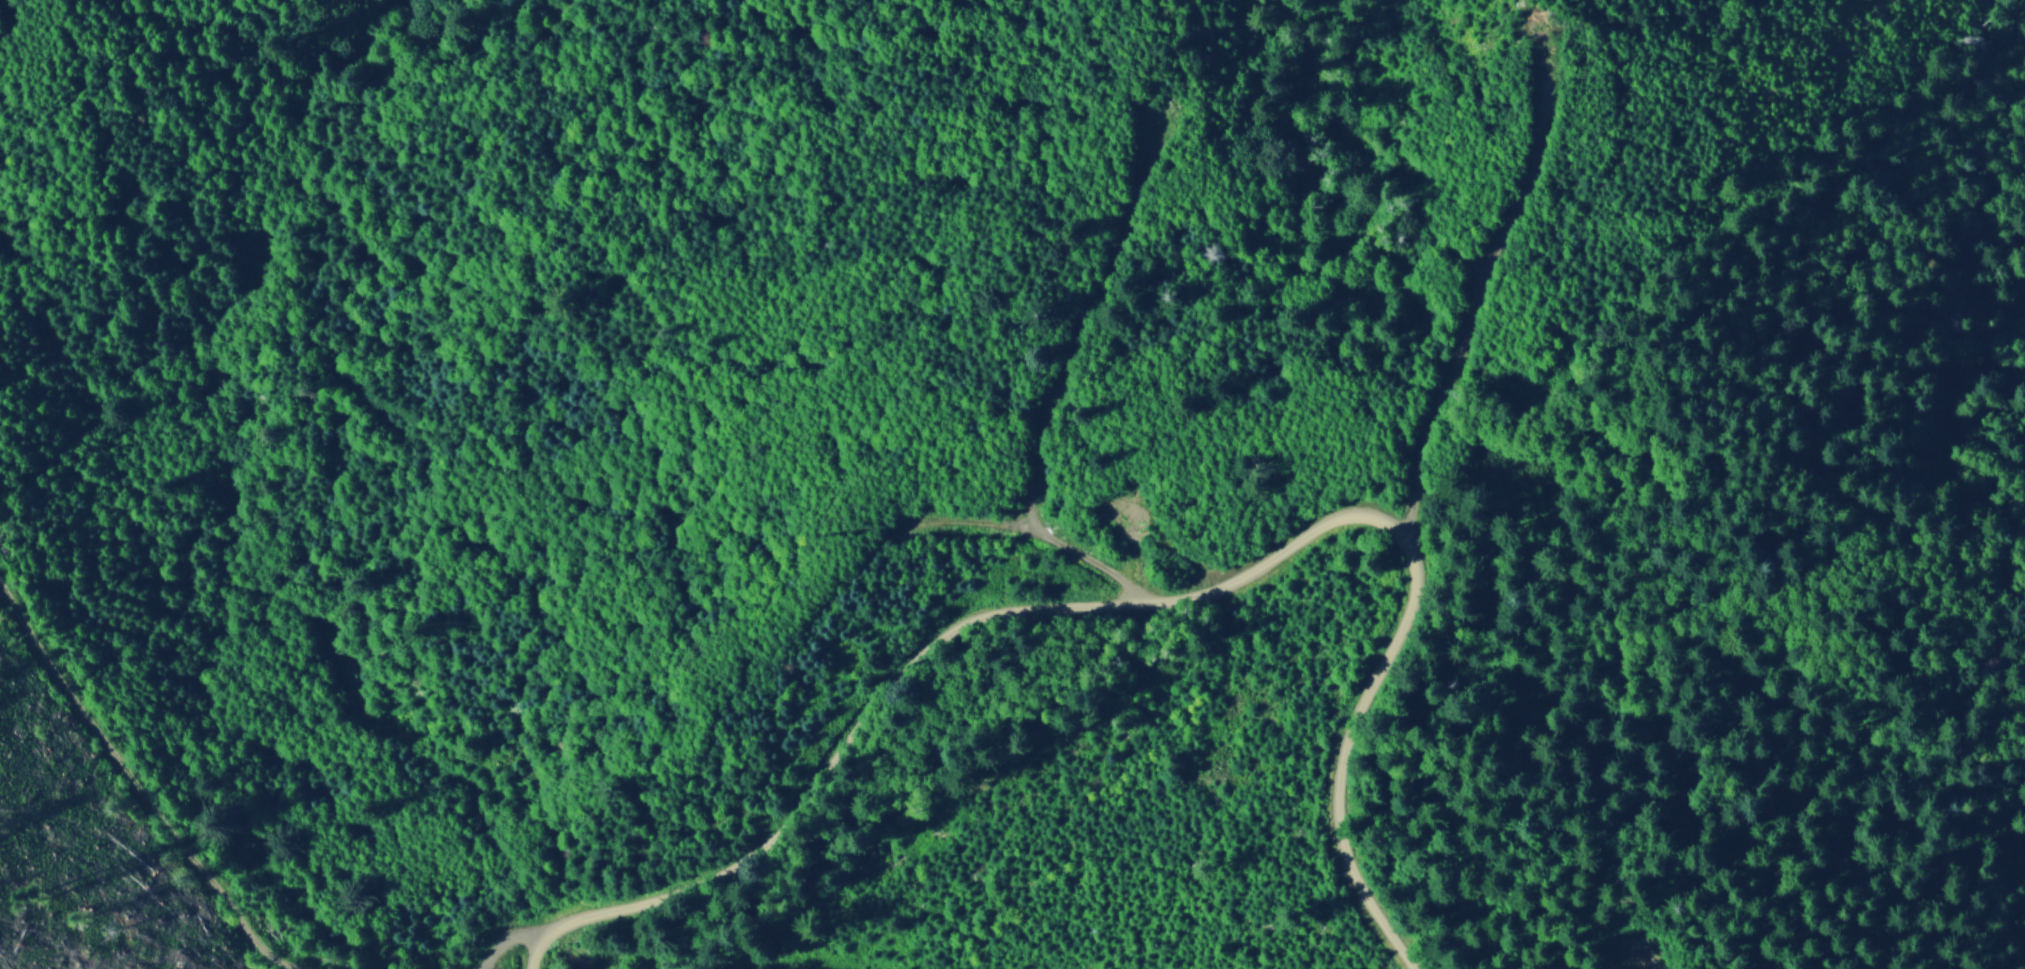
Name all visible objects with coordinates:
road: (1145, 604)
road: (18, 616)
road: (152, 823)
road: (513, 940)

